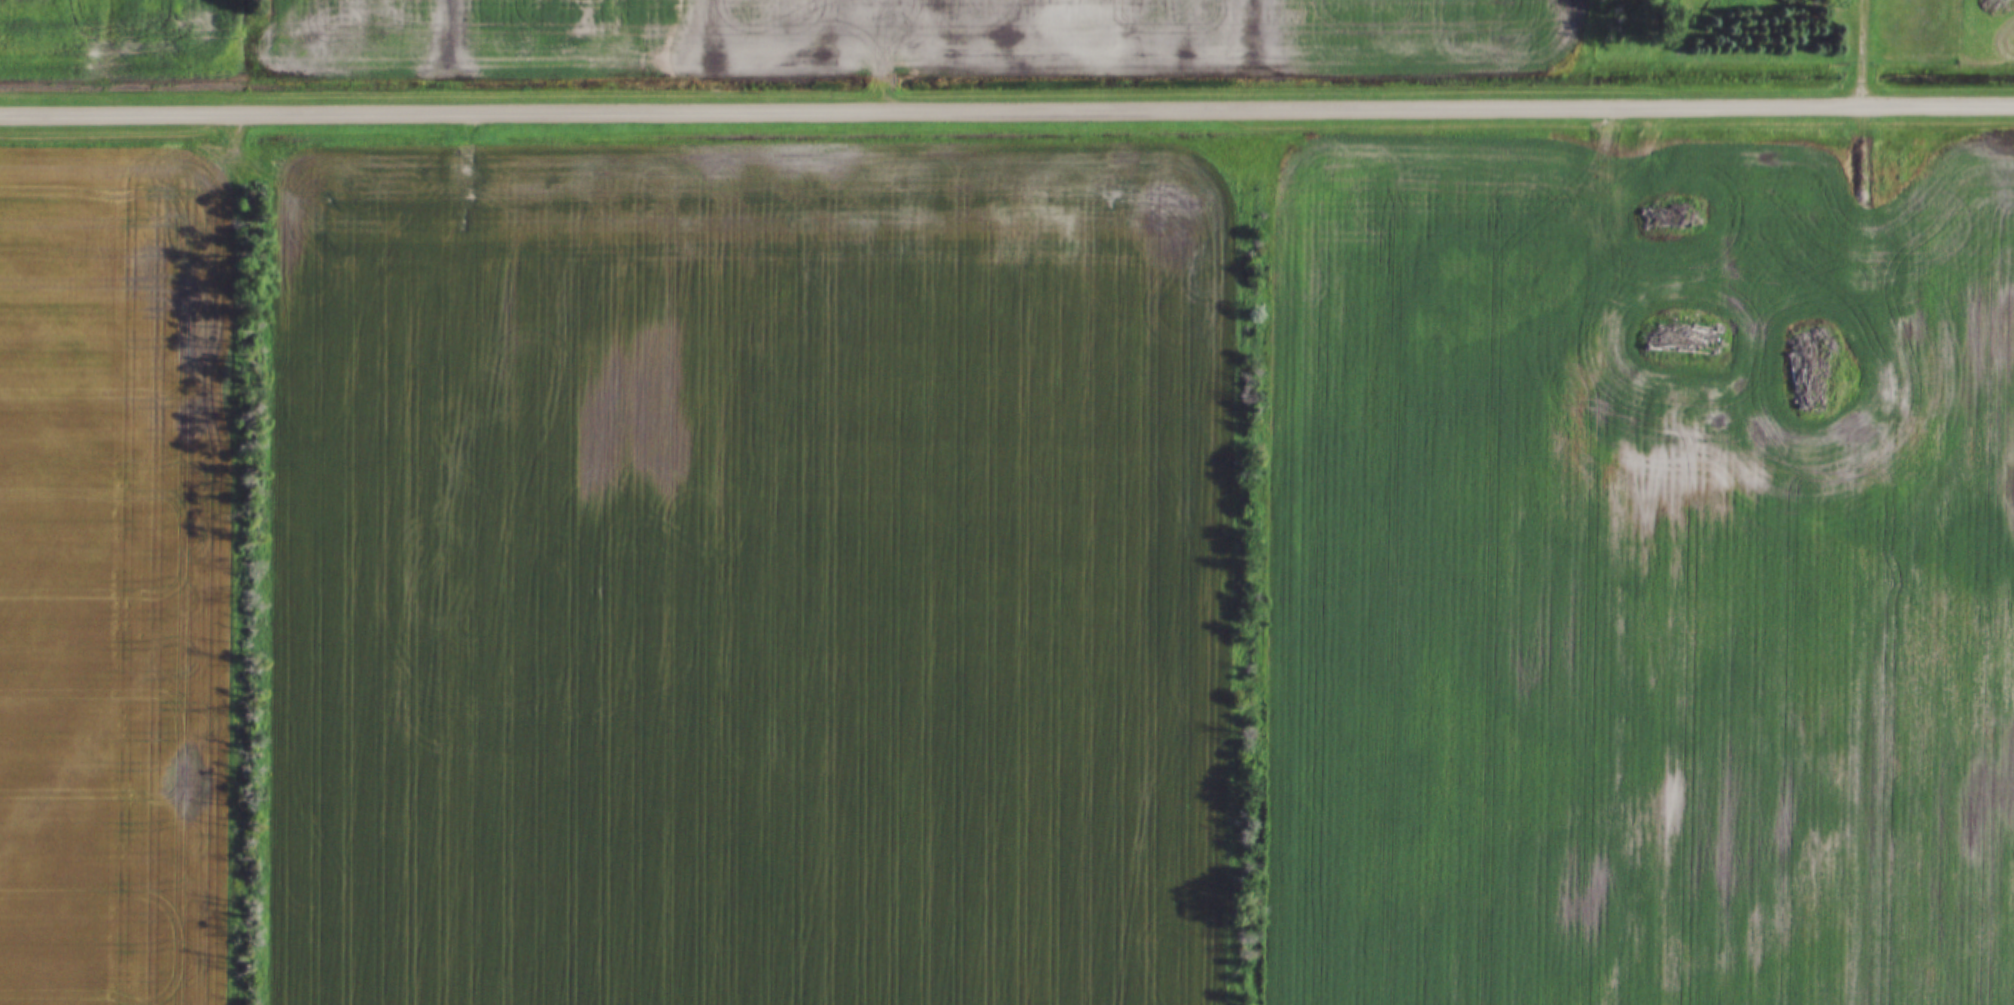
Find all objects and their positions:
road: (1866, 52)
road: (1007, 111)
road: (1865, 204)
building: (1800, 266)
building: (1857, 320)
building: (1784, 324)

